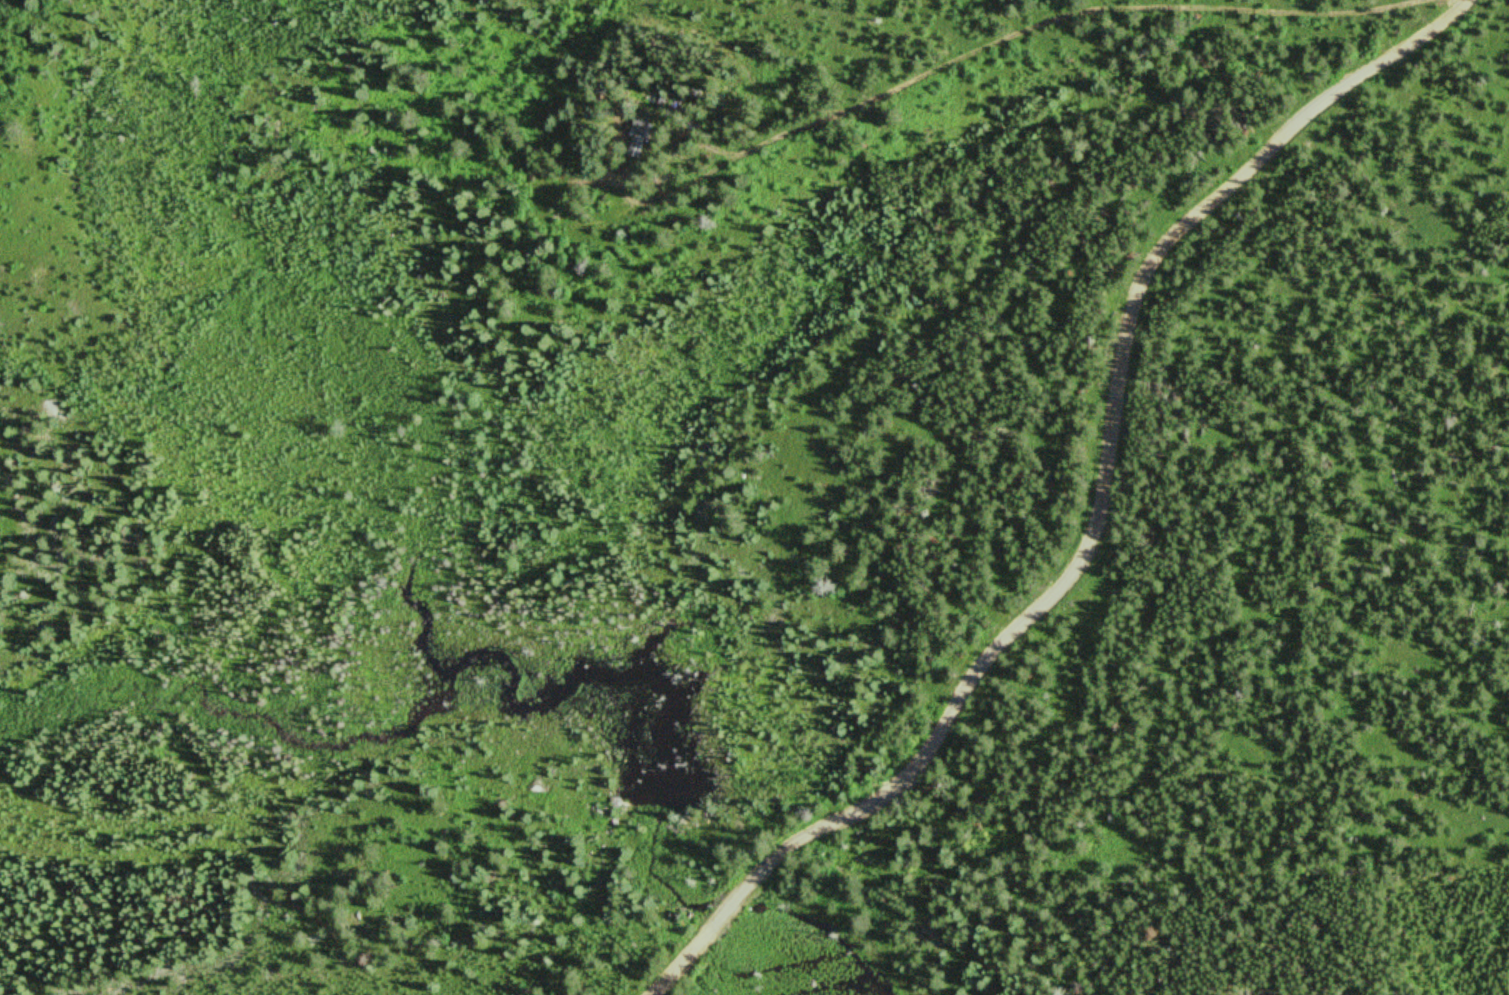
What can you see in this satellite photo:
road: (863, 87)
building: (638, 137)
road: (1100, 520)

